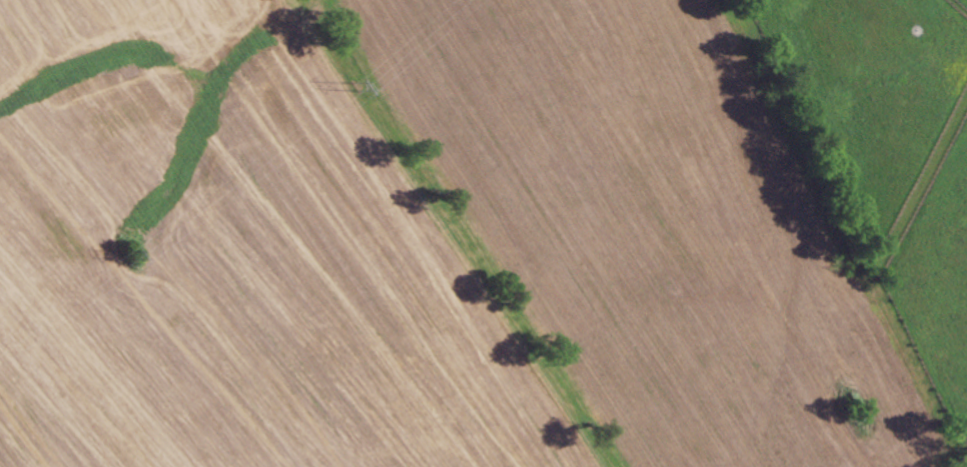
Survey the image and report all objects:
power tower: (360, 83)
power tower: (140, 259)

